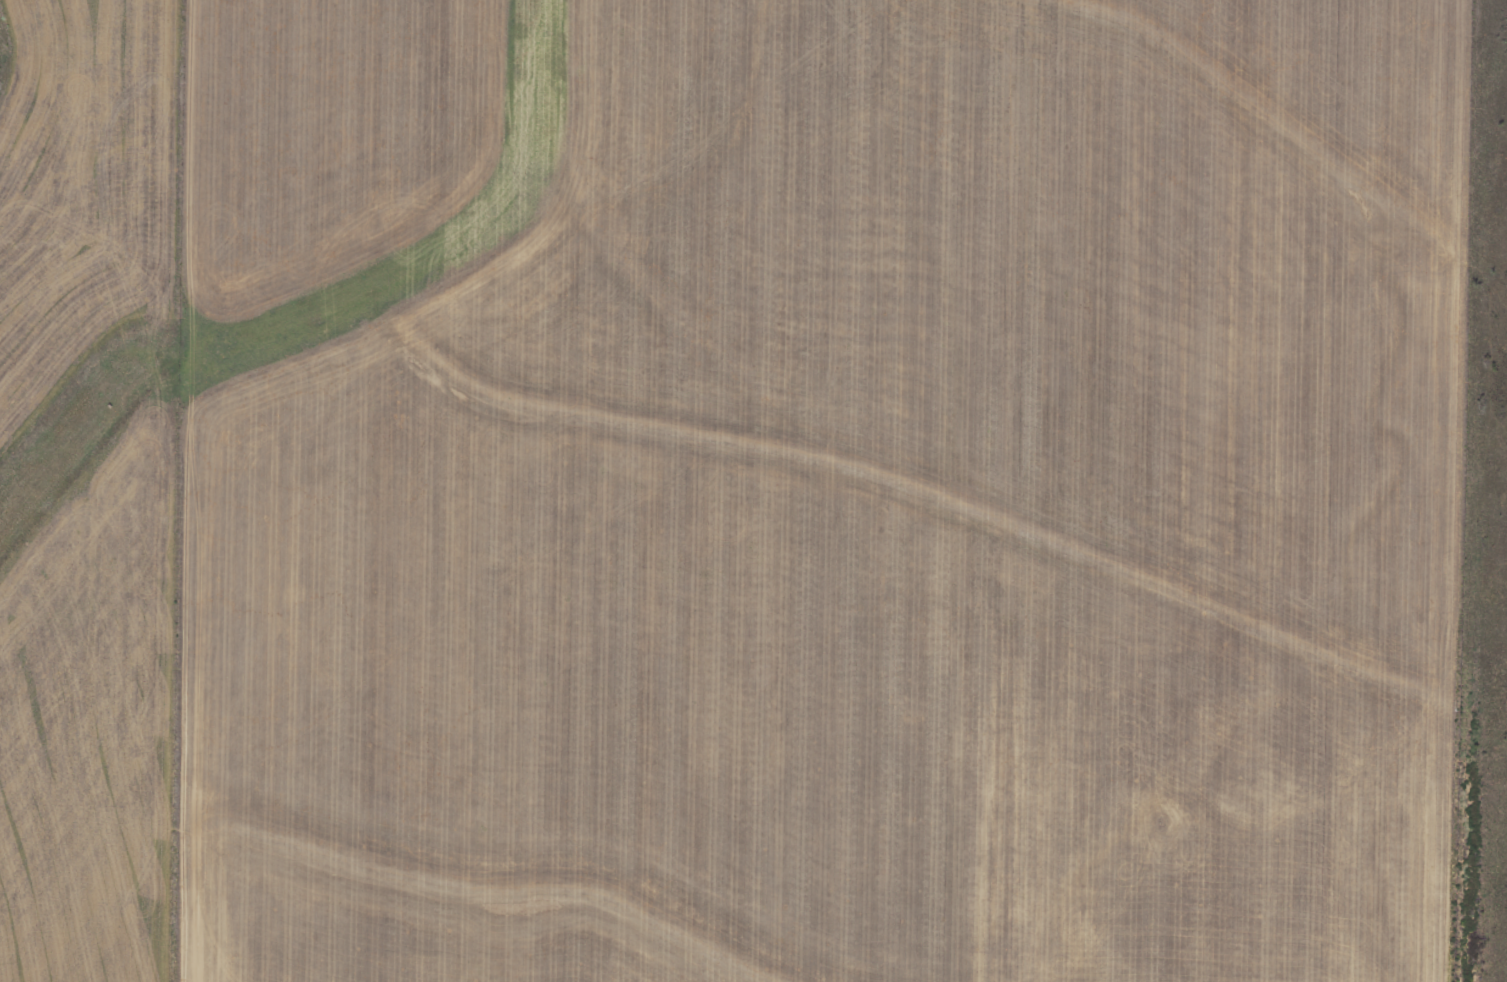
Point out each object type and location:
road: (1470, 491)

